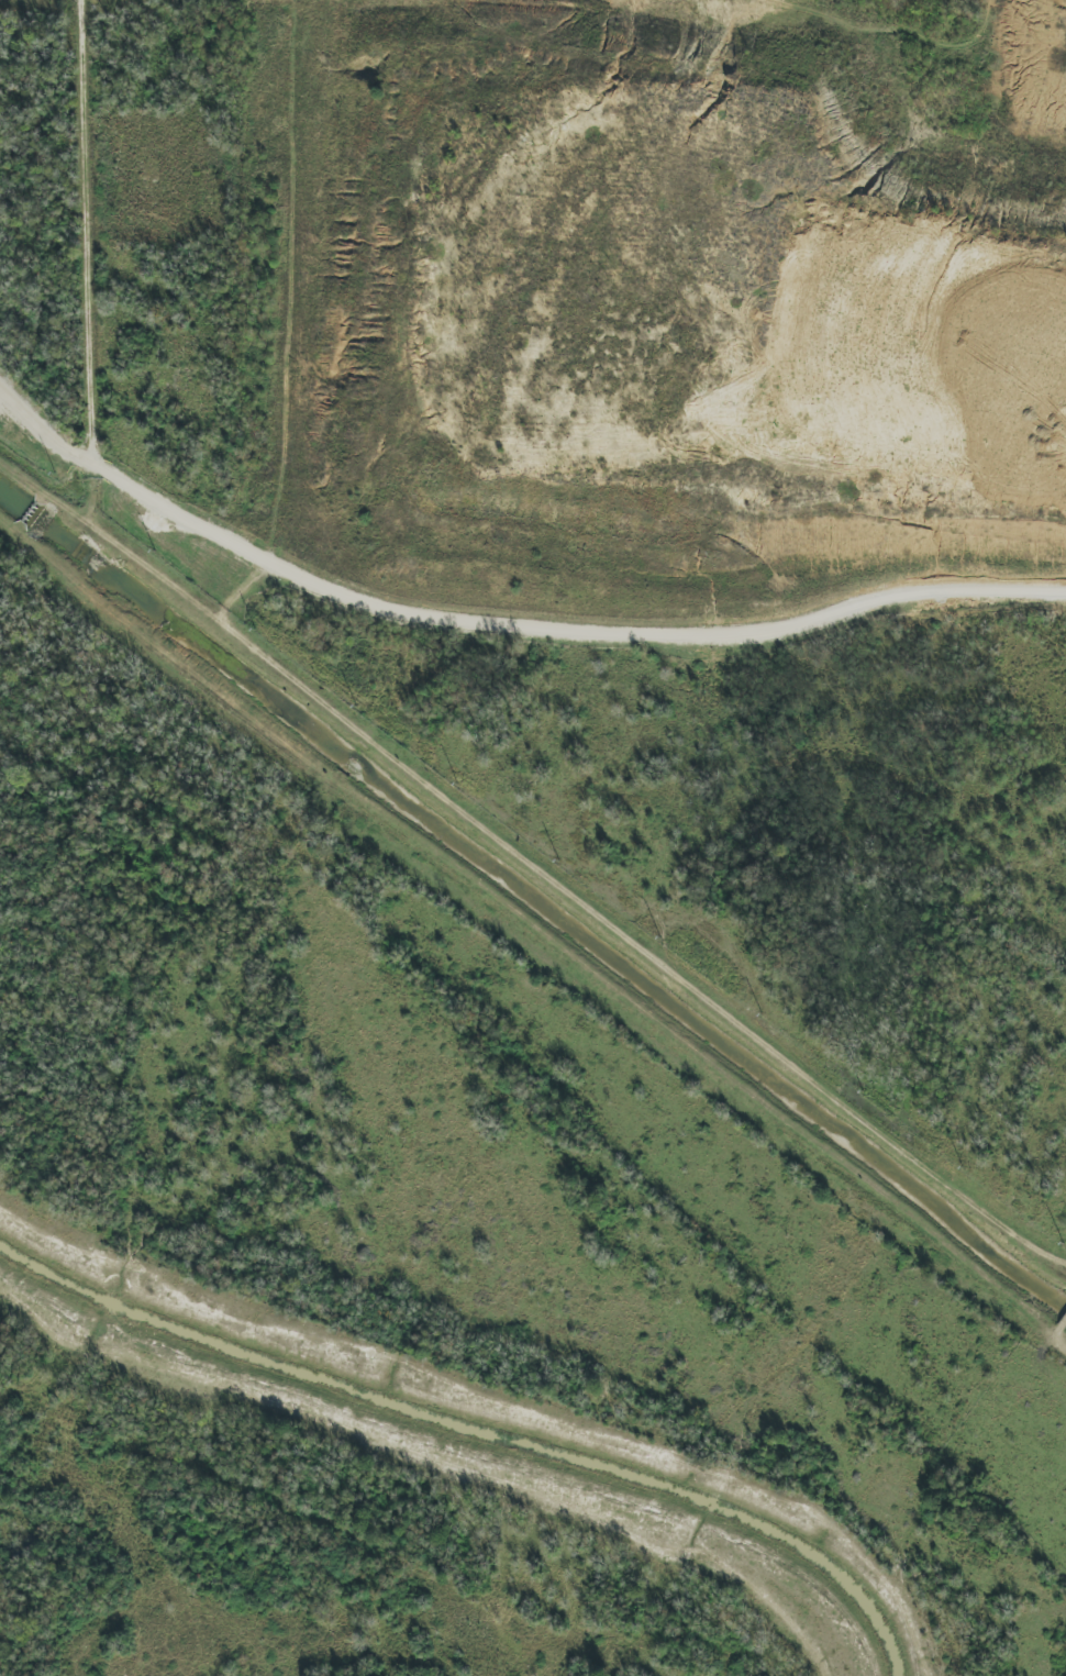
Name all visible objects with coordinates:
road: (504, 624)

